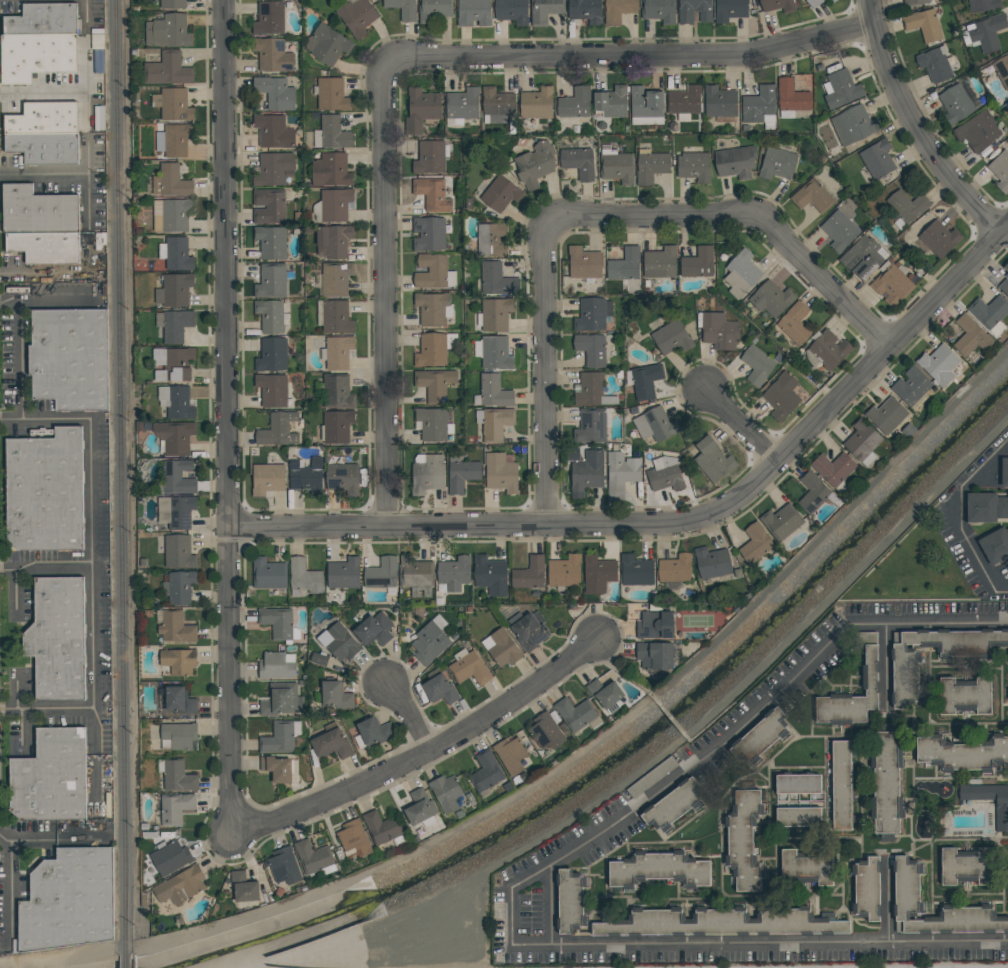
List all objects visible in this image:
building: (833, 1)
building: (914, 1)
building: (172, 3)
building: (814, 3)
building: (778, 5)
building: (984, 5)
building: (403, 9)
building: (434, 9)
building: (585, 10)
building: (618, 10)
building: (730, 10)
building: (545, 11)
building: (659, 11)
building: (473, 12)
building: (512, 12)
road: (86, 14)
building: (357, 16)
building: (685, 16)
building: (269, 18)
building: (42, 20)
building: (924, 25)
building: (168, 31)
building: (988, 31)
building: (329, 44)
building: (36, 55)
building: (272, 55)
road: (631, 57)
building: (935, 64)
building: (1002, 69)
building: (167, 70)
building: (841, 89)
building: (275, 92)
road: (44, 94)
building: (331, 94)
building: (792, 96)
building: (684, 100)
building: (497, 102)
building: (611, 102)
building: (646, 102)
building: (719, 102)
building: (462, 103)
building: (537, 103)
building: (575, 103)
building: (172, 104)
building: (759, 104)
building: (956, 104)
building: (421, 109)
building: (44, 119)
building: (853, 124)
road: (88, 126)
road: (912, 128)
building: (273, 131)
building: (978, 131)
building: (334, 132)
building: (177, 140)
building: (44, 148)
building: (430, 157)
building: (877, 158)
building: (735, 161)
building: (578, 162)
building: (777, 163)
building: (535, 164)
building: (651, 167)
building: (694, 167)
building: (617, 168)
building: (274, 169)
building: (331, 170)
building: (1000, 170)
road: (44, 176)
building: (170, 181)
building: (501, 193)
building: (432, 195)
building: (812, 196)
building: (335, 204)
building: (907, 205)
building: (269, 206)
building: (39, 210)
building: (176, 215)
road: (746, 217)
building: (840, 230)
building: (429, 233)
building: (939, 238)
building: (491, 240)
building: (333, 241)
building: (271, 242)
building: (46, 246)
building: (177, 254)
building: (862, 258)
building: (660, 262)
building: (584, 263)
building: (698, 263)
building: (625, 265)
building: (1006, 266)
building: (431, 271)
building: (741, 274)
building: (336, 278)
building: (497, 279)
building: (272, 281)
building: (892, 285)
building: (1004, 285)
building: (175, 290)
road: (383, 297)
building: (771, 298)
road: (10, 304)
building: (432, 308)
building: (989, 311)
building: (495, 314)
building: (593, 314)
building: (270, 315)
building: (336, 317)
building: (794, 323)
building: (174, 325)
road: (20, 328)
building: (719, 331)
building: (971, 337)
building: (672, 338)
building: (591, 349)
building: (431, 350)
building: (828, 350)
building: (338, 352)
building: (496, 352)
building: (272, 355)
building: (70, 358)
building: (173, 363)
building: (939, 364)
building: (757, 365)
road: (544, 375)
building: (645, 380)
building: (434, 384)
building: (911, 386)
building: (273, 389)
building: (592, 390)
building: (337, 391)
building: (494, 392)
building: (781, 396)
building: (176, 401)
road: (226, 410)
building: (887, 415)
building: (432, 423)
building: (496, 424)
building: (659, 424)
building: (591, 425)
road: (739, 425)
building: (337, 426)
building: (278, 430)
building: (175, 436)
building: (862, 440)
building: (712, 459)
road: (984, 462)
building: (833, 468)
building: (622, 471)
building: (501, 472)
building: (1004, 472)
building: (665, 473)
building: (585, 474)
building: (462, 475)
building: (426, 476)
railway: (123, 477)
building: (177, 477)
building: (305, 477)
building: (343, 478)
building: (265, 480)
building: (45, 490)
building: (812, 493)
building: (985, 507)
building: (180, 513)
building: (780, 522)
road: (679, 526)
road: (967, 542)
building: (754, 544)
building: (995, 545)
building: (178, 553)
road: (89, 561)
building: (711, 564)
road: (45, 568)
building: (674, 570)
building: (453, 571)
building: (634, 571)
building: (563, 572)
building: (414, 573)
building: (342, 574)
building: (267, 575)
building: (381, 575)
building: (489, 575)
building: (528, 575)
building: (597, 575)
building: (303, 577)
building: (178, 588)
road: (14, 590)
road: (1002, 592)
building: (276, 623)
road: (932, 623)
building: (654, 626)
building: (174, 628)
building: (372, 630)
building: (529, 631)
building: (58, 638)
building: (339, 642)
building: (428, 643)
building: (503, 649)
building: (653, 656)
road: (886, 661)
building: (177, 662)
building: (274, 667)
building: (468, 669)
road: (615, 672)
building: (905, 676)
building: (868, 678)
building: (439, 690)
building: (604, 693)
building: (964, 695)
building: (335, 696)
building: (280, 700)
building: (178, 702)
road: (45, 709)
building: (574, 714)
road: (408, 716)
road: (673, 724)
building: (373, 732)
building: (546, 733)
building: (178, 736)
building: (278, 738)
building: (758, 738)
building: (330, 745)
road: (429, 750)
building: (962, 753)
building: (510, 756)
building: (275, 769)
building: (485, 772)
building: (651, 776)
building: (51, 777)
building: (177, 777)
building: (884, 783)
road: (669, 785)
building: (796, 785)
building: (840, 787)
building: (444, 794)
building: (671, 806)
building: (174, 808)
building: (419, 808)
building: (1001, 816)
building: (797, 818)
building: (380, 829)
road: (53, 837)
building: (352, 840)
building: (744, 842)
building: (170, 858)
building: (311, 858)
building: (966, 866)
building: (283, 867)
building: (806, 869)
building: (658, 870)
building: (180, 885)
road: (11, 887)
building: (242, 888)
building: (906, 888)
building: (865, 890)
building: (69, 900)
building: (569, 902)
road: (551, 904)
road: (889, 905)
building: (722, 924)
road: (762, 943)
railway: (128, 961)

